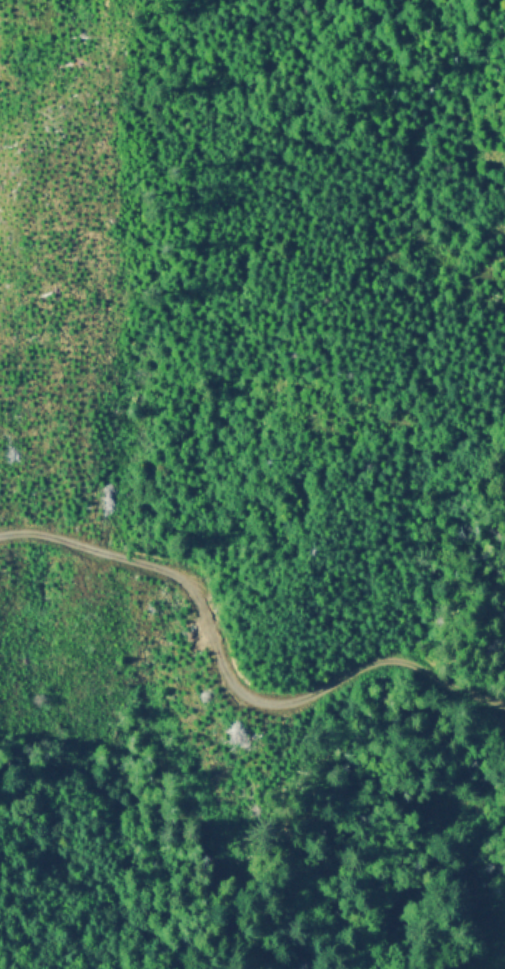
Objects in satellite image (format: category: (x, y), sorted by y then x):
road: (365, 495)
road: (236, 643)

